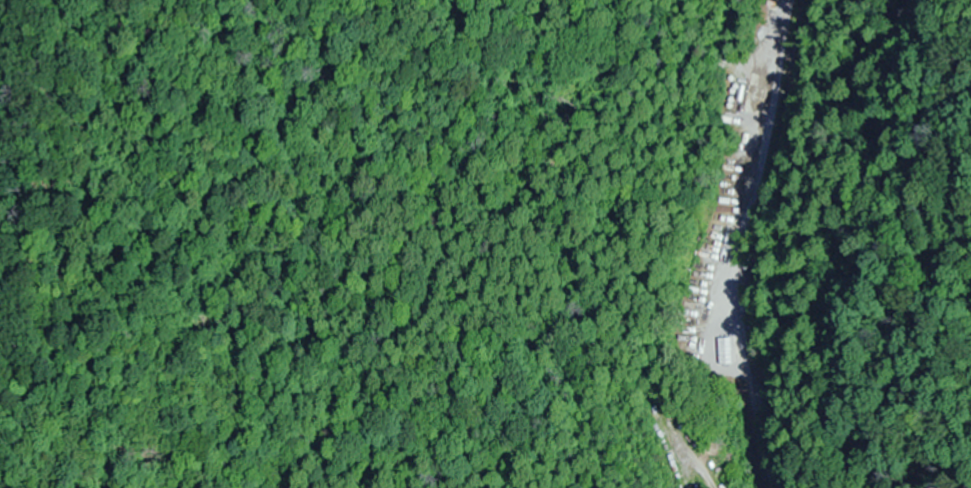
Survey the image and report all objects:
building: (718, 234)

